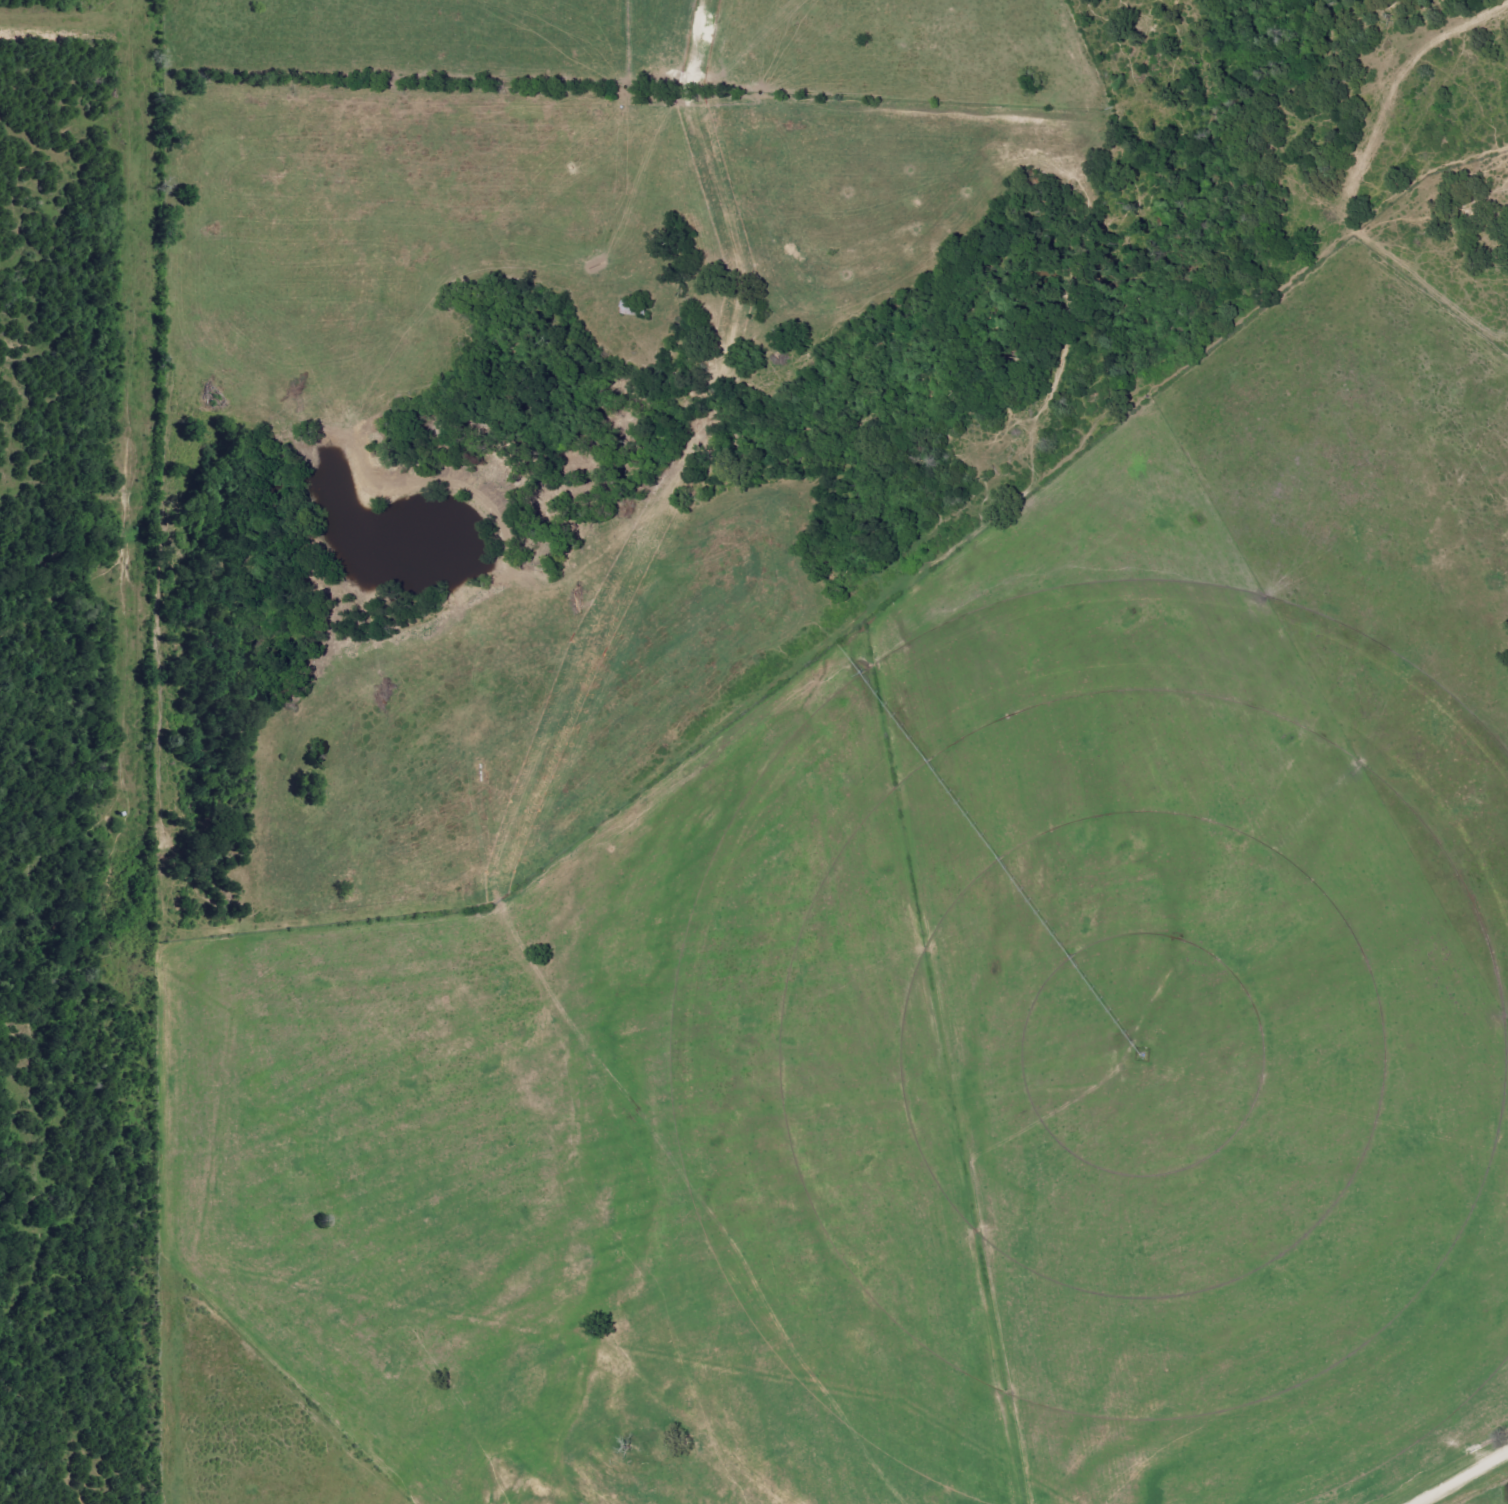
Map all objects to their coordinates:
road: (1468, 1483)

